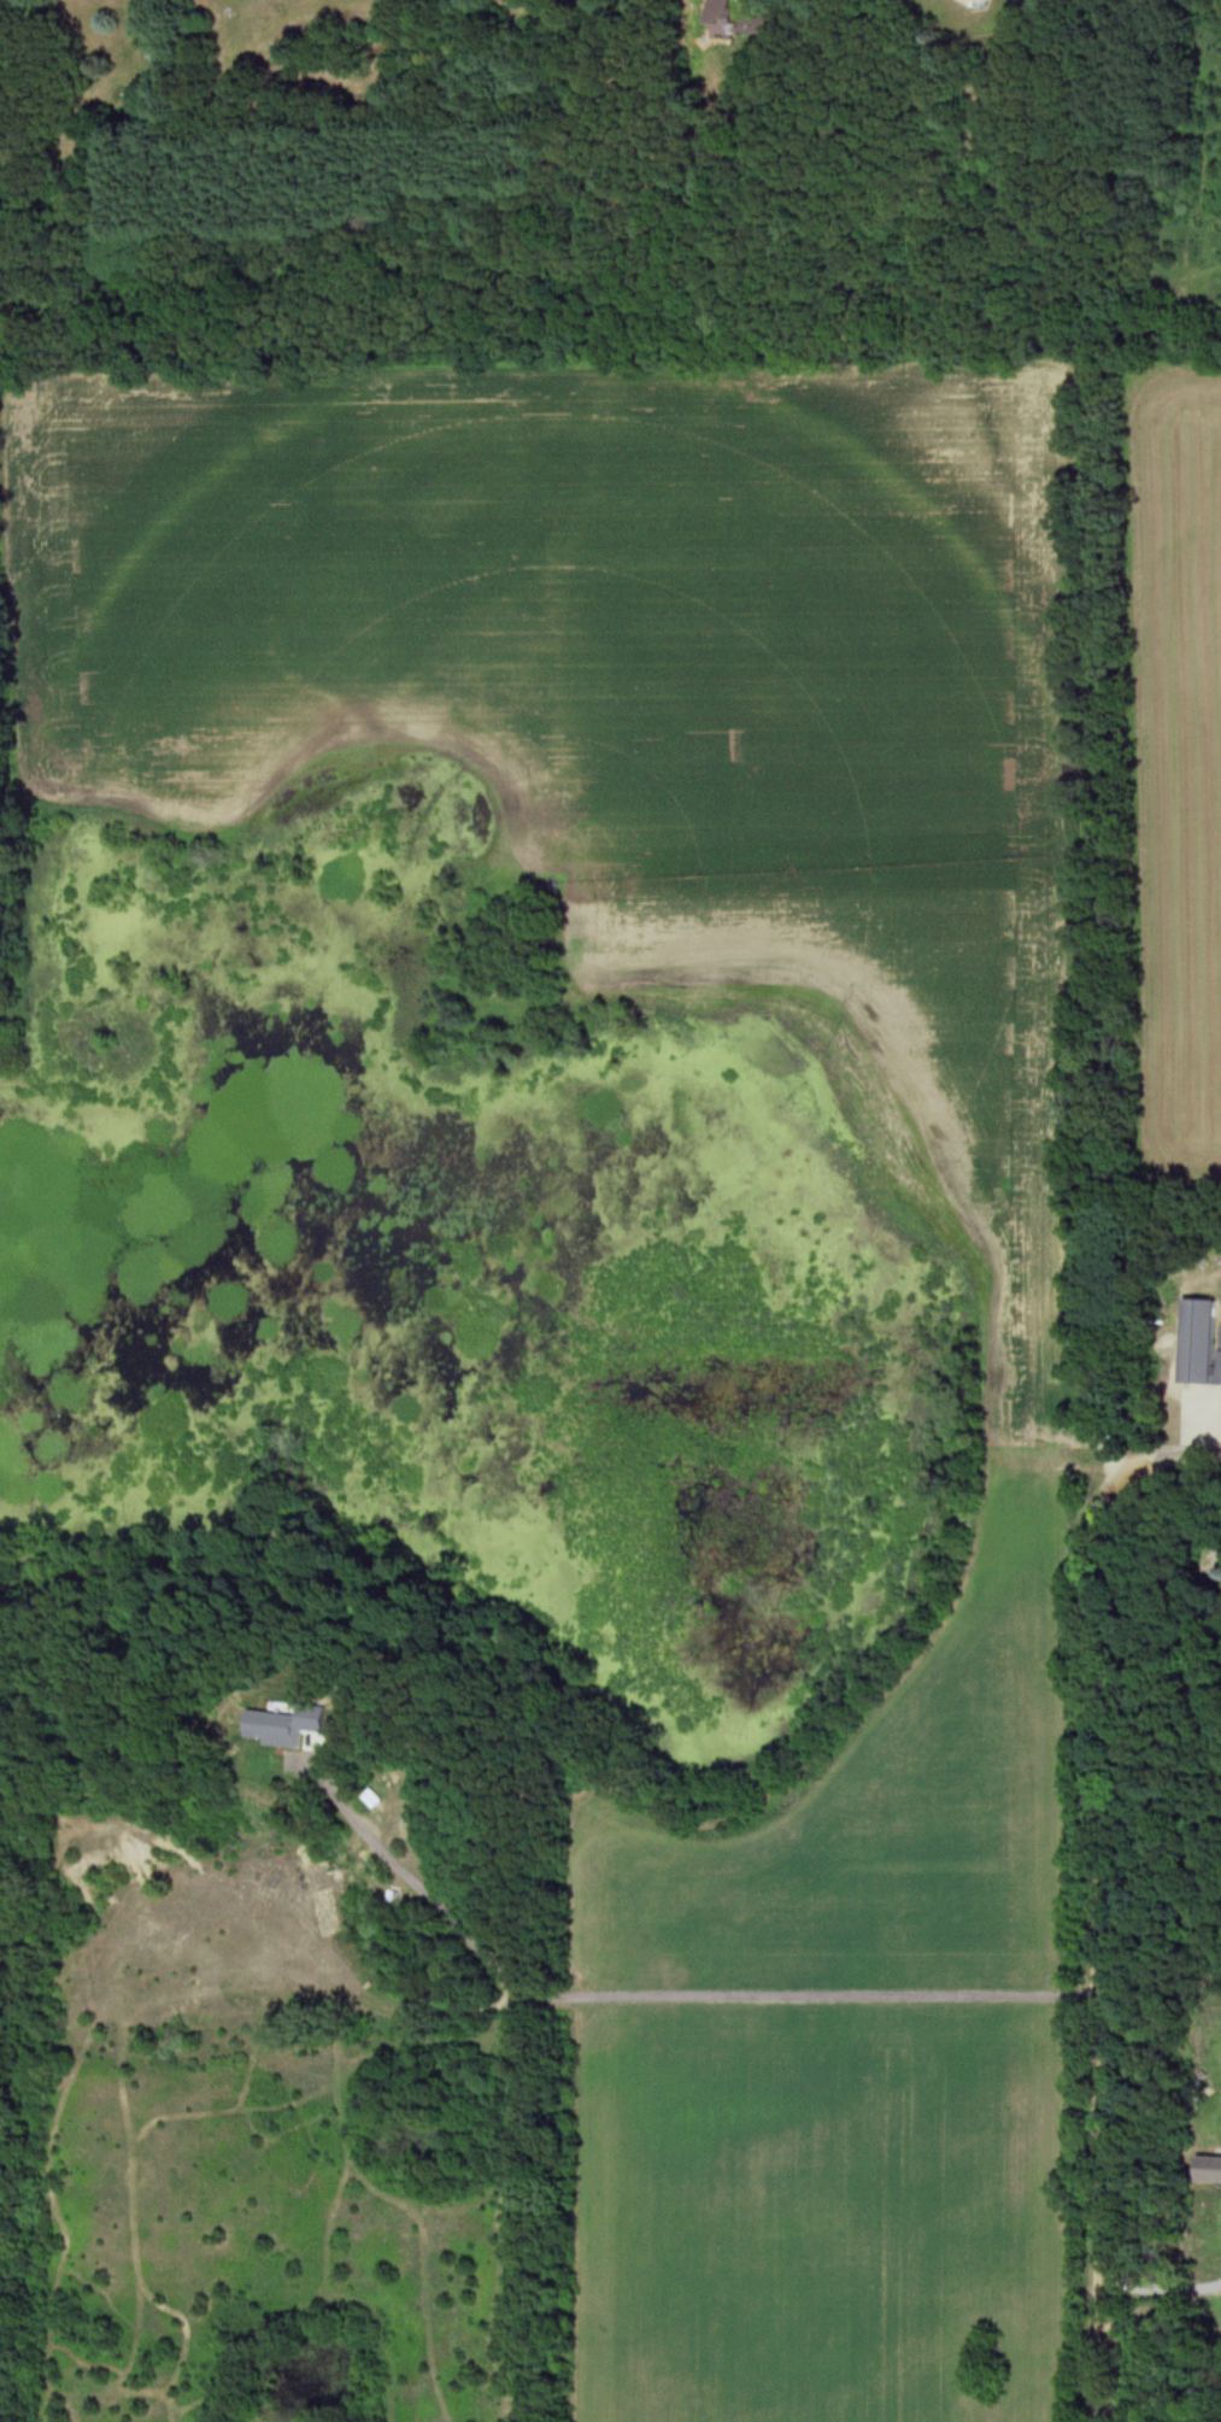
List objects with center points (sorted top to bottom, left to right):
building: (739, 23)
building: (1203, 1343)
road: (1186, 1459)
road: (1102, 1928)
road: (695, 1998)
building: (1210, 2170)
road: (1163, 2288)

